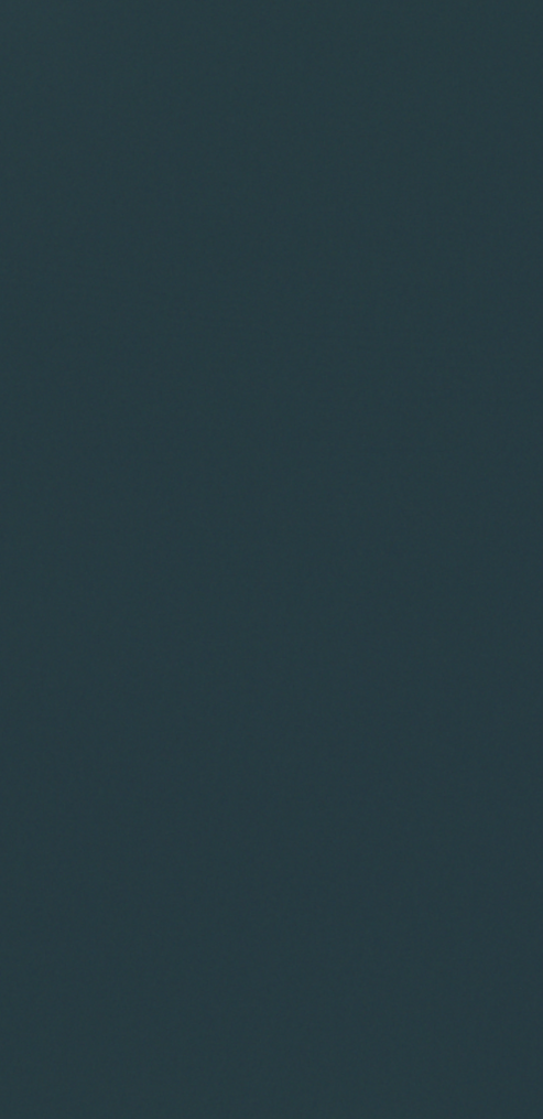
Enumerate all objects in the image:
river: (271, 951)

